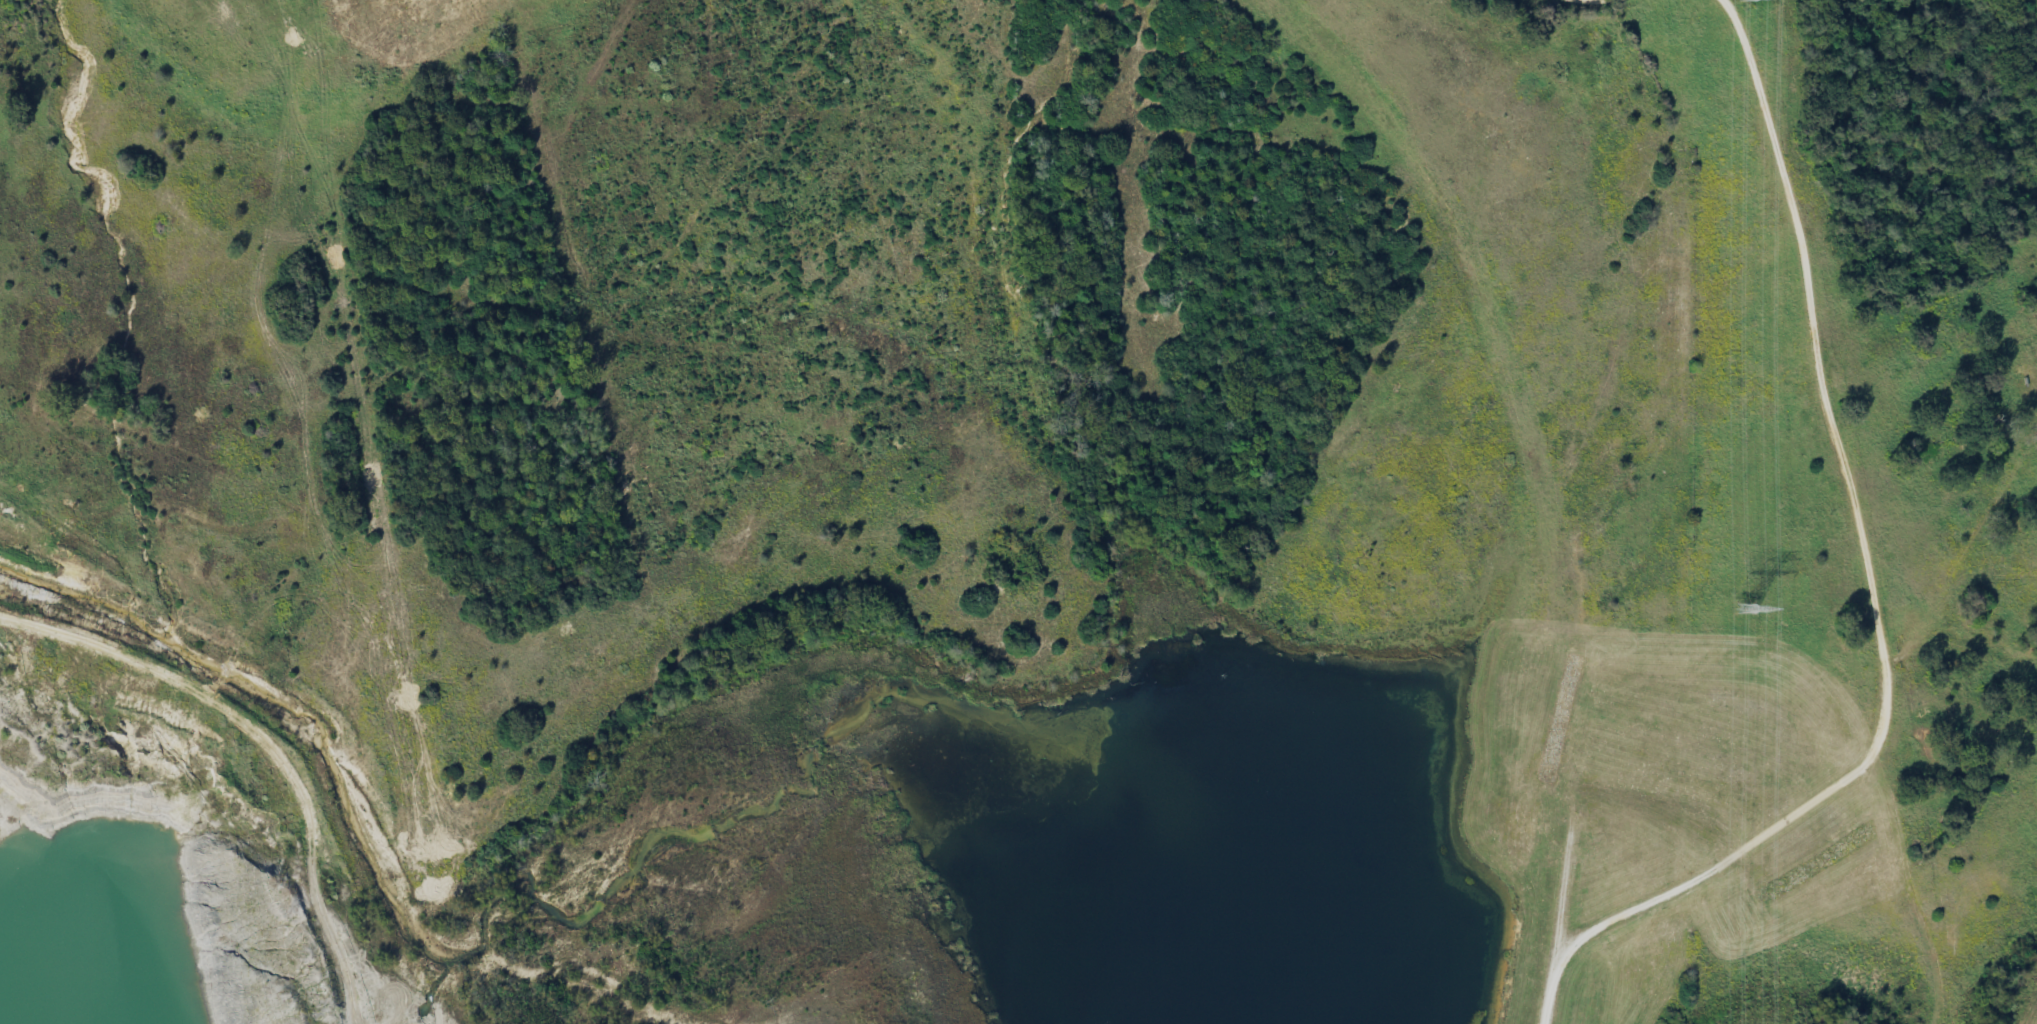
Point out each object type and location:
power tower: (1747, 608)
quarry: (183, 803)

